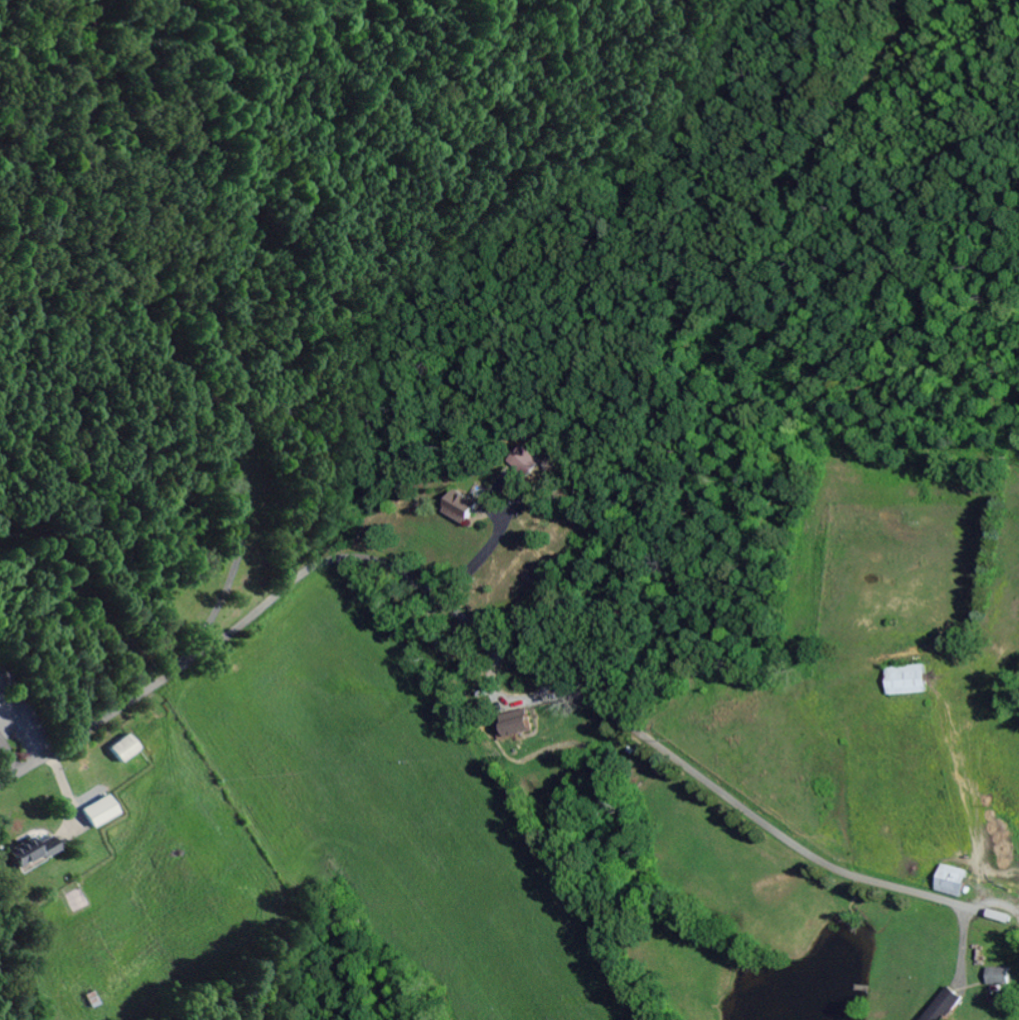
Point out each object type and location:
road: (722, 342)
building: (524, 463)
building: (516, 495)
building: (459, 509)
road: (484, 634)
building: (905, 682)
building: (506, 730)
building: (121, 750)
building: (96, 812)
building: (30, 852)
building: (950, 882)
building: (997, 977)
building: (943, 1007)

